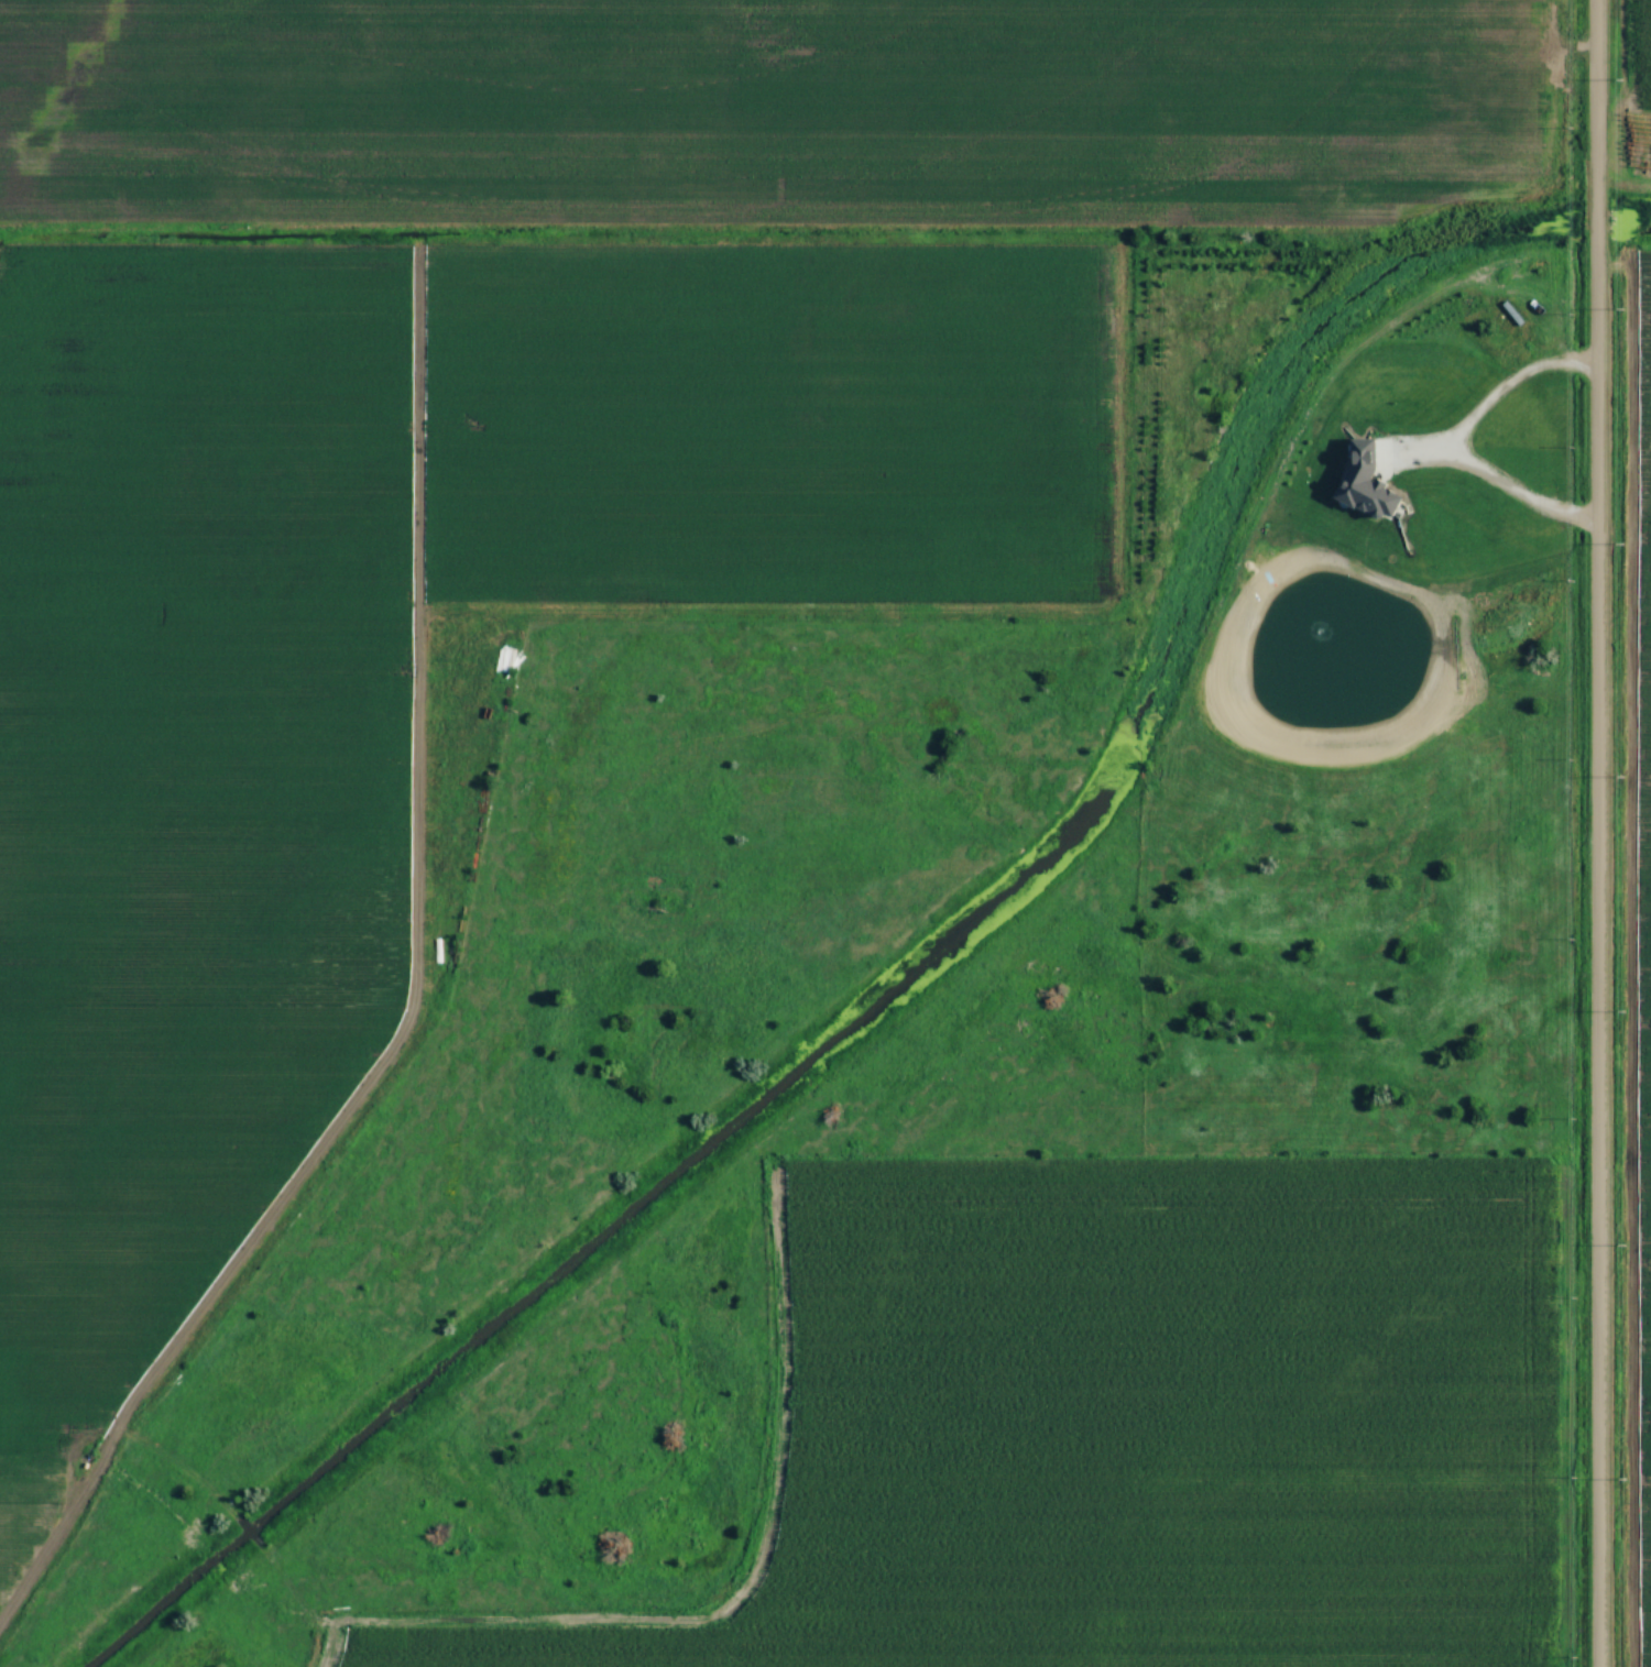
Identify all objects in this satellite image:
road: (1595, 833)

